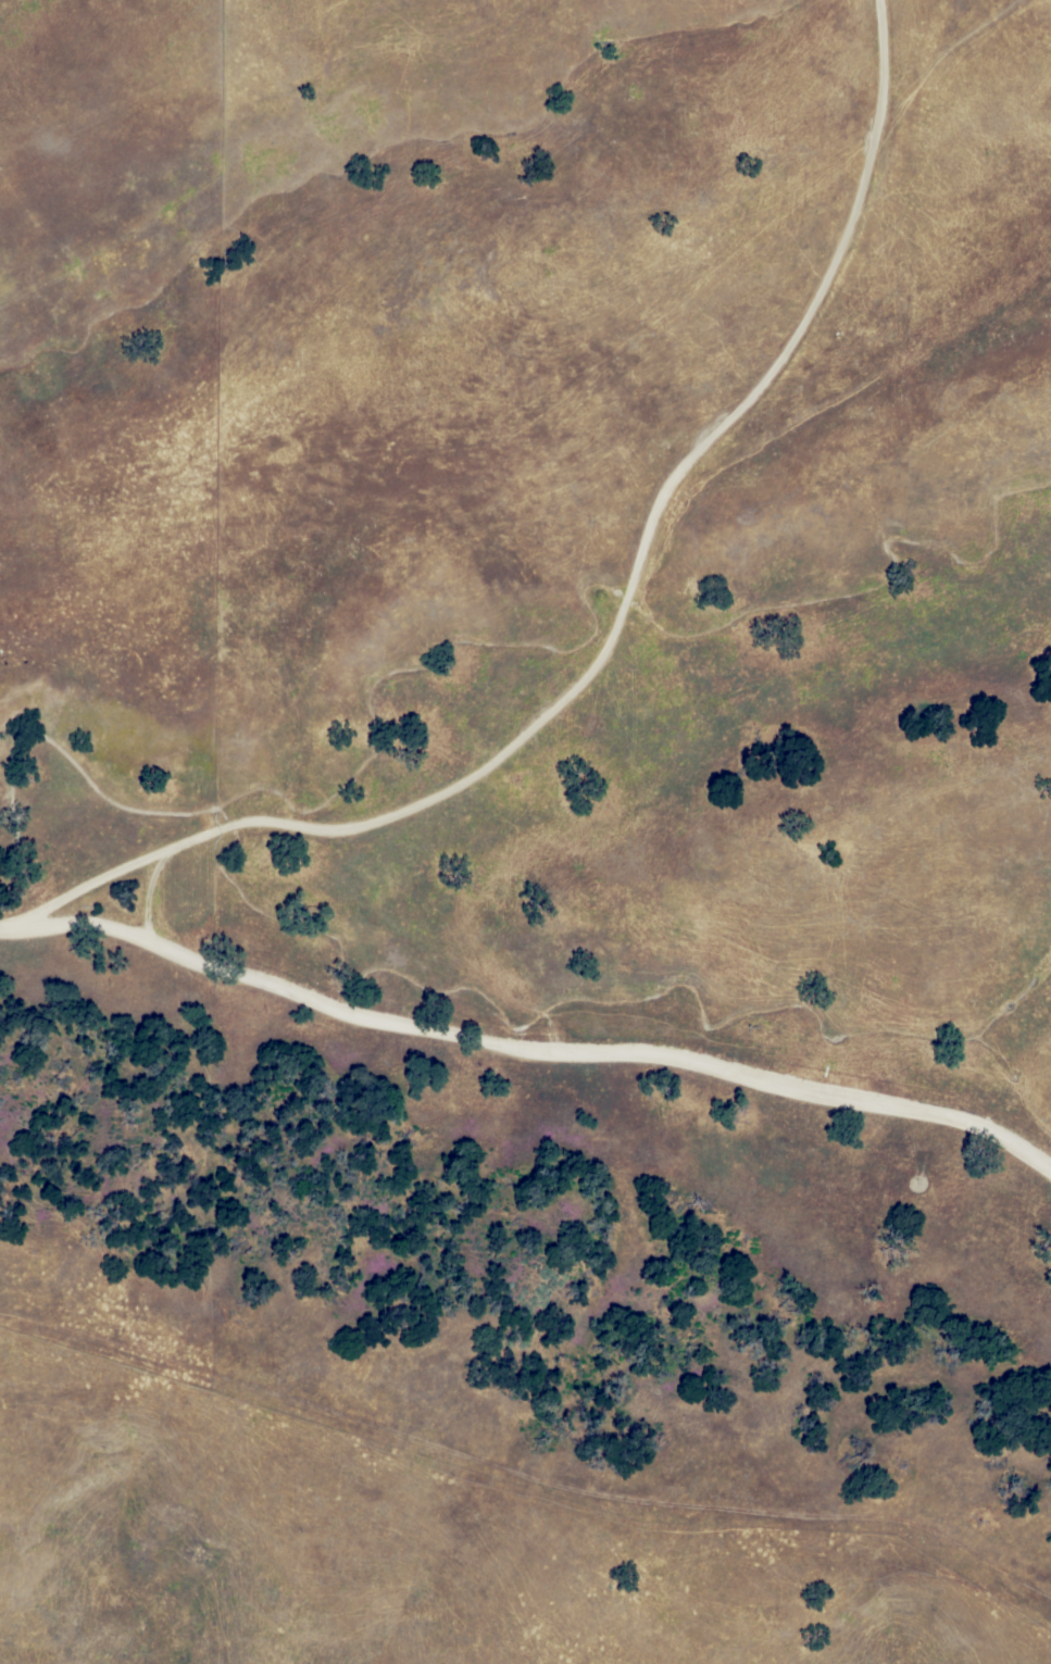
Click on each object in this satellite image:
road: (523, 1048)

